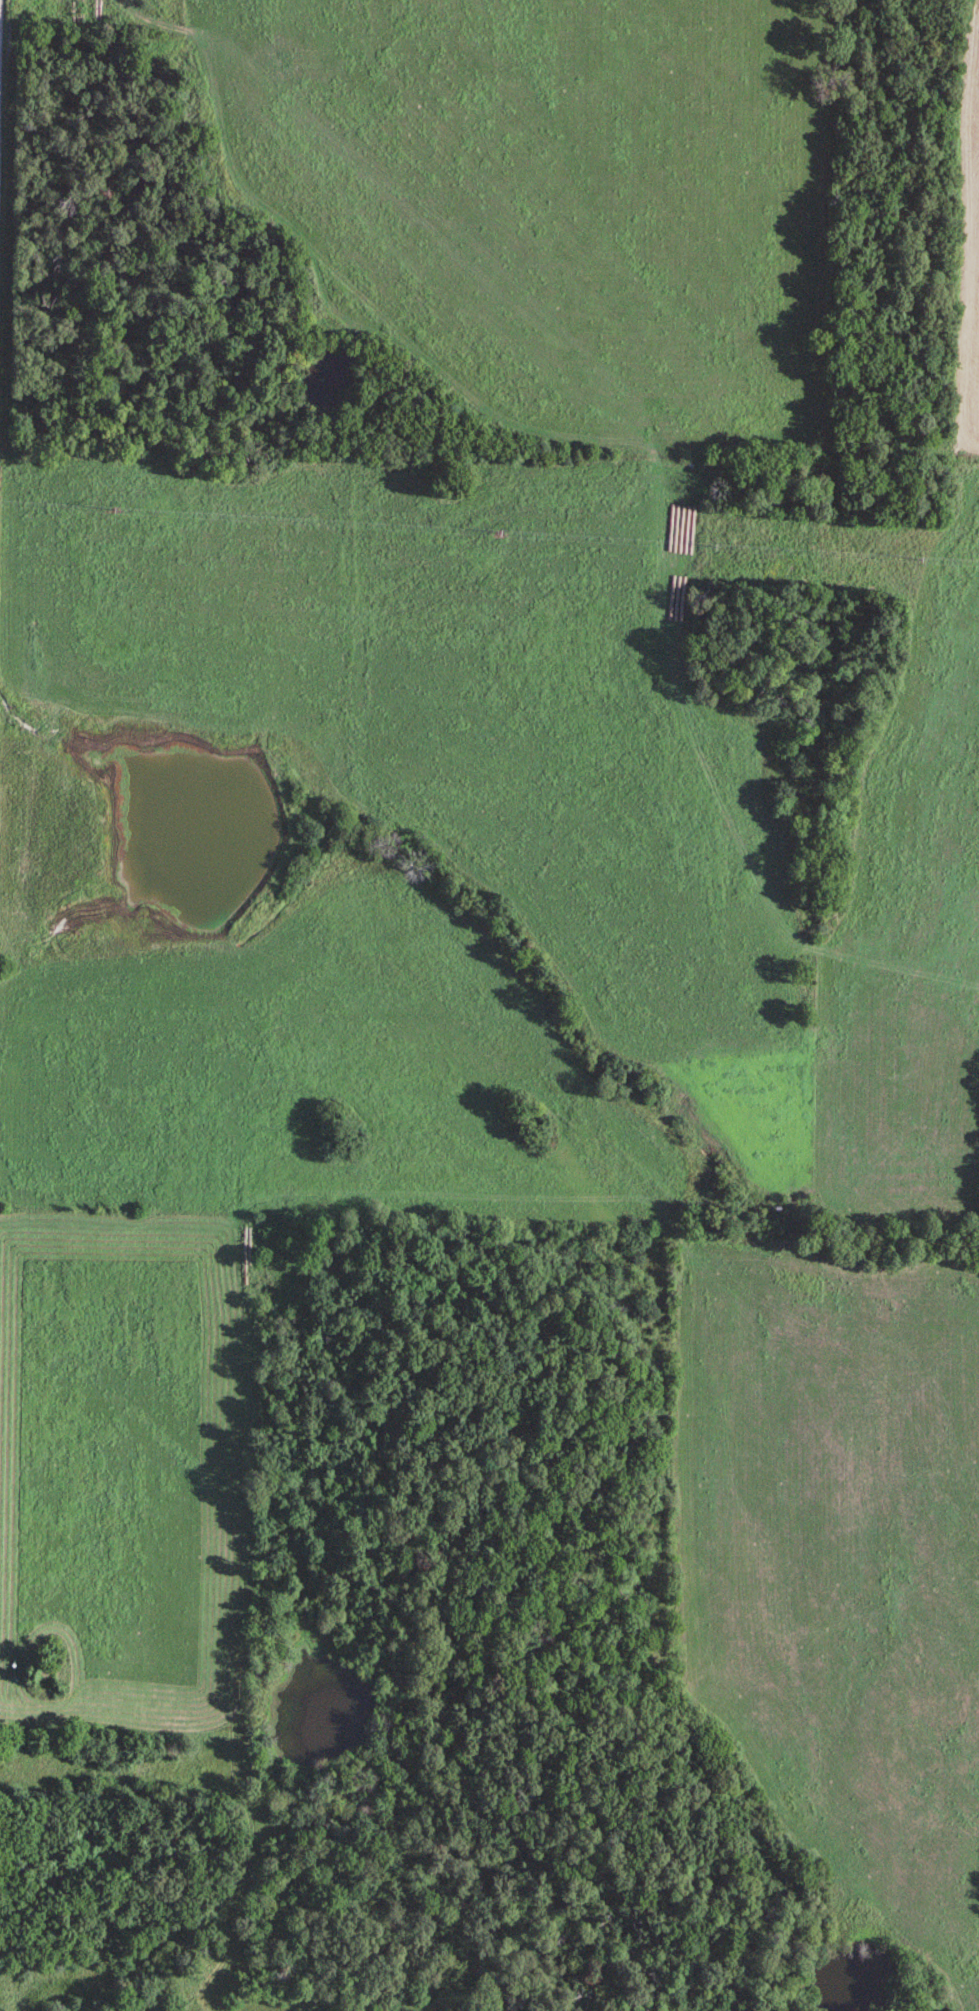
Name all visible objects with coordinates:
road: (0, 1)

